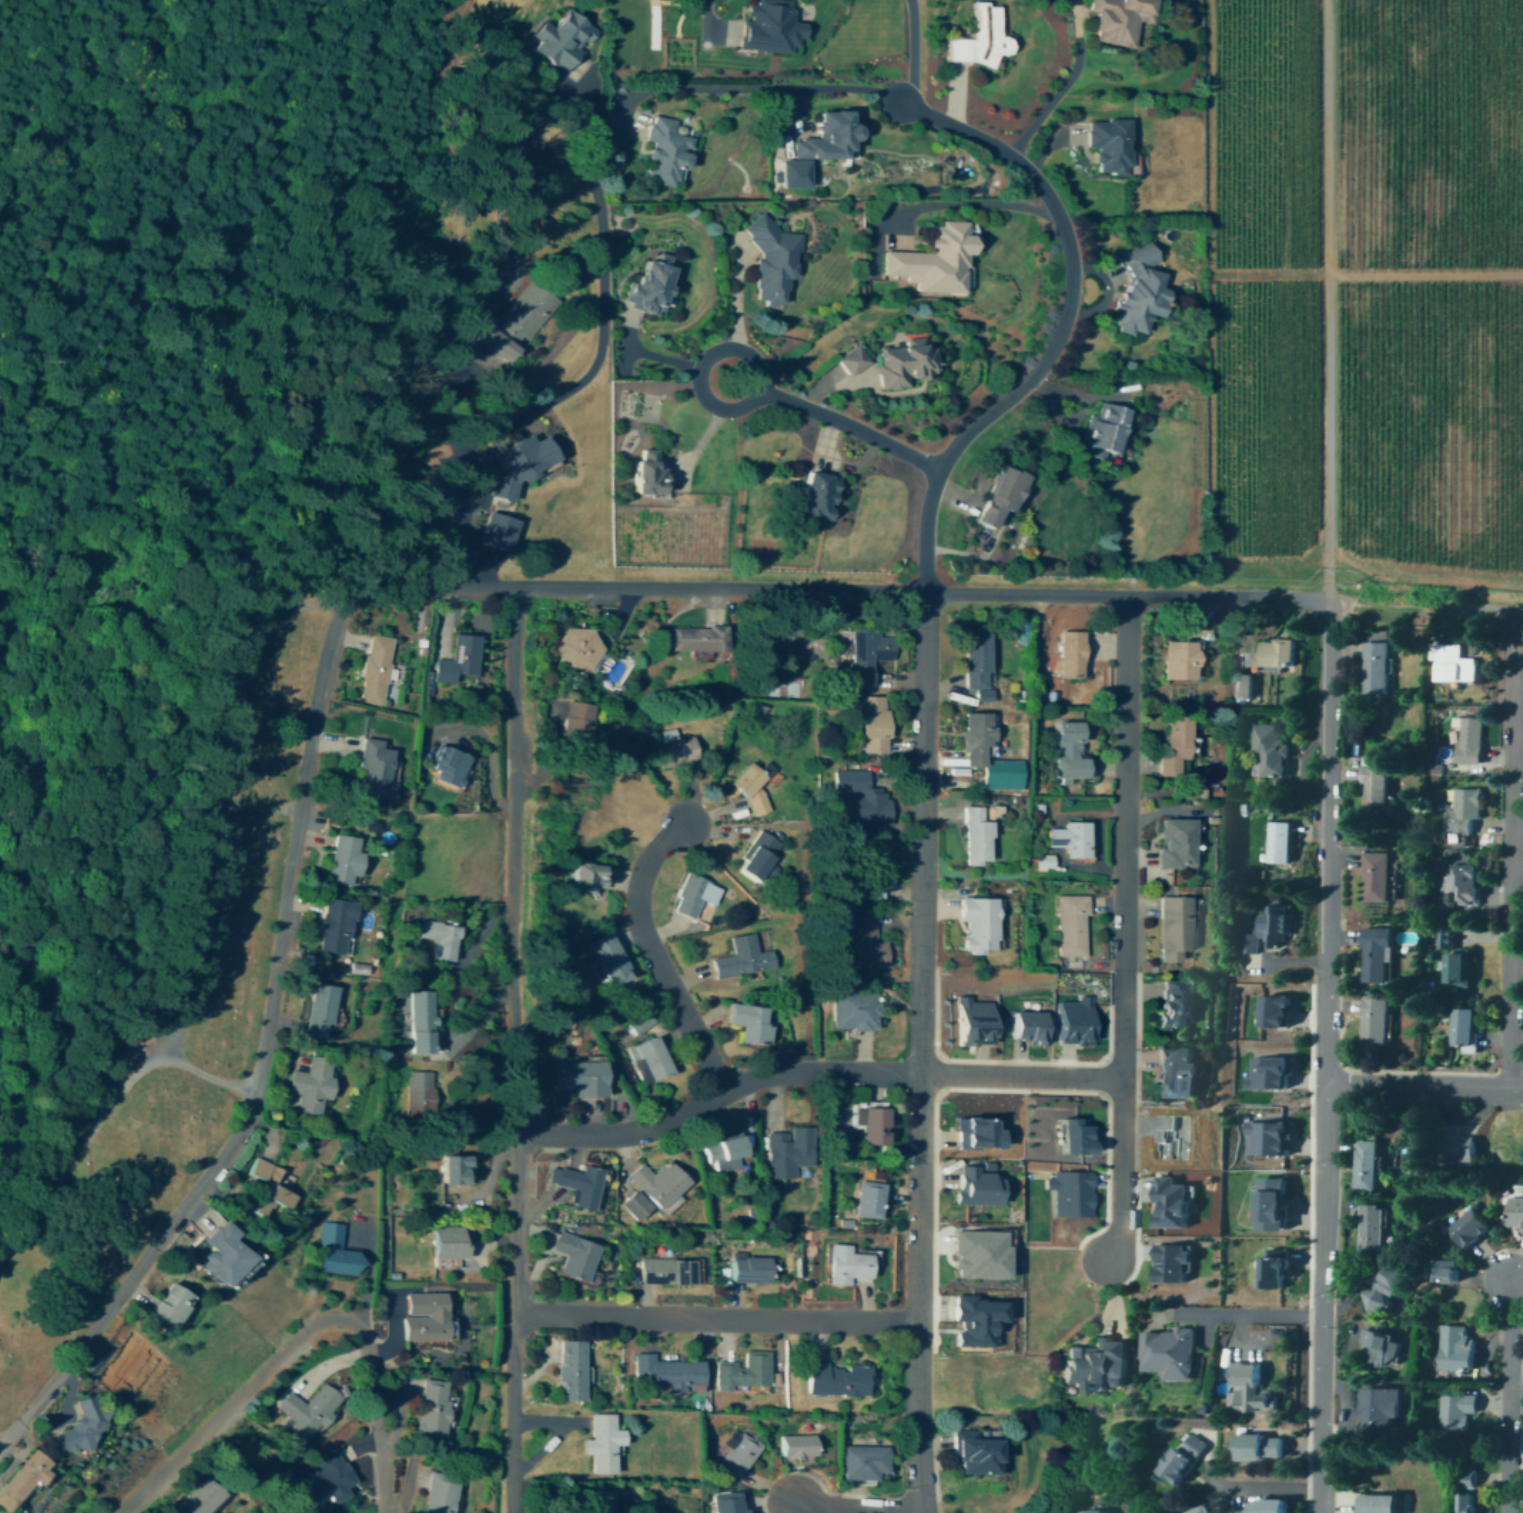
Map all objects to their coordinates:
road: (701, 14)
building: (1119, 21)
building: (772, 25)
building: (561, 38)
building: (976, 39)
road: (907, 51)
road: (1058, 93)
building: (826, 136)
building: (1106, 146)
building: (665, 153)
building: (795, 171)
road: (971, 203)
road: (1051, 206)
building: (770, 261)
building: (931, 262)
road: (1425, 277)
building: (648, 286)
building: (1137, 288)
road: (736, 293)
road: (1327, 301)
building: (519, 321)
building: (855, 358)
building: (898, 364)
road: (701, 369)
road: (592, 371)
road: (850, 427)
building: (1104, 430)
building: (517, 465)
building: (646, 474)
building: (999, 495)
building: (813, 498)
building: (495, 531)
road: (575, 589)
road: (1396, 605)
road: (1497, 610)
road: (159, 639)
building: (697, 640)
building: (579, 650)
building: (866, 652)
building: (1070, 654)
building: (1276, 654)
building: (458, 660)
building: (976, 660)
building: (1178, 660)
building: (1452, 664)
building: (1374, 669)
building: (374, 670)
building: (1245, 684)
building: (561, 707)
building: (577, 724)
building: (870, 725)
building: (975, 740)
building: (1467, 741)
building: (1173, 744)
building: (671, 748)
building: (1268, 749)
building: (1068, 752)
building: (447, 767)
building: (371, 768)
building: (749, 787)
building: (1373, 787)
building: (861, 799)
building: (1461, 812)
road: (923, 833)
road: (1125, 836)
building: (975, 838)
building: (1070, 839)
building: (1279, 843)
road: (1326, 843)
building: (1174, 844)
road: (1510, 851)
building: (757, 857)
road: (513, 860)
building: (343, 861)
building: (1043, 863)
building: (866, 876)
building: (585, 878)
building: (1374, 878)
building: (1462, 886)
building: (689, 897)
road: (200, 924)
building: (976, 926)
building: (334, 927)
building: (1069, 927)
building: (1173, 930)
building: (1267, 933)
building: (441, 939)
building: (867, 945)
road: (652, 954)
building: (606, 956)
building: (1375, 956)
building: (738, 958)
building: (1454, 963)
building: (1172, 1004)
building: (851, 1010)
building: (1279, 1010)
building: (318, 1012)
building: (978, 1019)
building: (1078, 1019)
building: (420, 1022)
building: (749, 1022)
building: (1373, 1022)
building: (1031, 1025)
building: (1460, 1028)
park: (223, 1030)
building: (649, 1061)
building: (1176, 1072)
building: (1272, 1072)
road: (813, 1073)
road: (212, 1076)
building: (578, 1079)
building: (312, 1085)
road: (1423, 1087)
building: (419, 1096)
building: (871, 1127)
building: (980, 1132)
building: (1079, 1135)
building: (1271, 1135)
building: (1455, 1146)
building: (787, 1152)
building: (722, 1153)
building: (1365, 1163)
building: (454, 1170)
road: (1120, 1171)
building: (656, 1184)
building: (979, 1184)
building: (577, 1185)
building: (268, 1189)
building: (1072, 1192)
building: (867, 1200)
building: (1175, 1201)
building: (1277, 1202)
road: (1323, 1202)
building: (633, 1206)
building: (1515, 1216)
building: (1371, 1230)
building: (1468, 1230)
building: (447, 1244)
building: (336, 1252)
building: (982, 1253)
building: (220, 1255)
building: (573, 1256)
building: (1175, 1261)
building: (847, 1267)
building: (1279, 1267)
building: (748, 1271)
building: (667, 1273)
building: (1443, 1274)
road: (368, 1278)
road: (128, 1280)
building: (1382, 1290)
road: (918, 1293)
building: (169, 1305)
building: (1453, 1307)
building: (424, 1317)
road: (1246, 1317)
building: (979, 1319)
road: (716, 1320)
road: (513, 1322)
road: (304, 1333)
building: (1453, 1349)
building: (1378, 1350)
building: (1167, 1355)
building: (1095, 1368)
building: (569, 1371)
building: (667, 1372)
building: (743, 1372)
building: (836, 1381)
building: (1250, 1391)
road: (1507, 1397)
building: (1375, 1408)
building: (431, 1409)
building: (305, 1410)
building: (1452, 1411)
road: (1320, 1415)
building: (82, 1427)
building: (601, 1444)
building: (796, 1446)
building: (1257, 1450)
building: (973, 1455)
building: (738, 1456)
building: (1182, 1460)
building: (863, 1464)
building: (329, 1476)
building: (23, 1480)
building: (1465, 1481)
road: (1264, 1490)
building: (438, 1493)
building: (200, 1499)
building: (595, 1502)
building: (730, 1502)
building: (1375, 1504)
building: (1465, 1504)
building: (1265, 1507)
road: (857, 1509)
building: (1200, 1511)
building: (1098, 1512)

